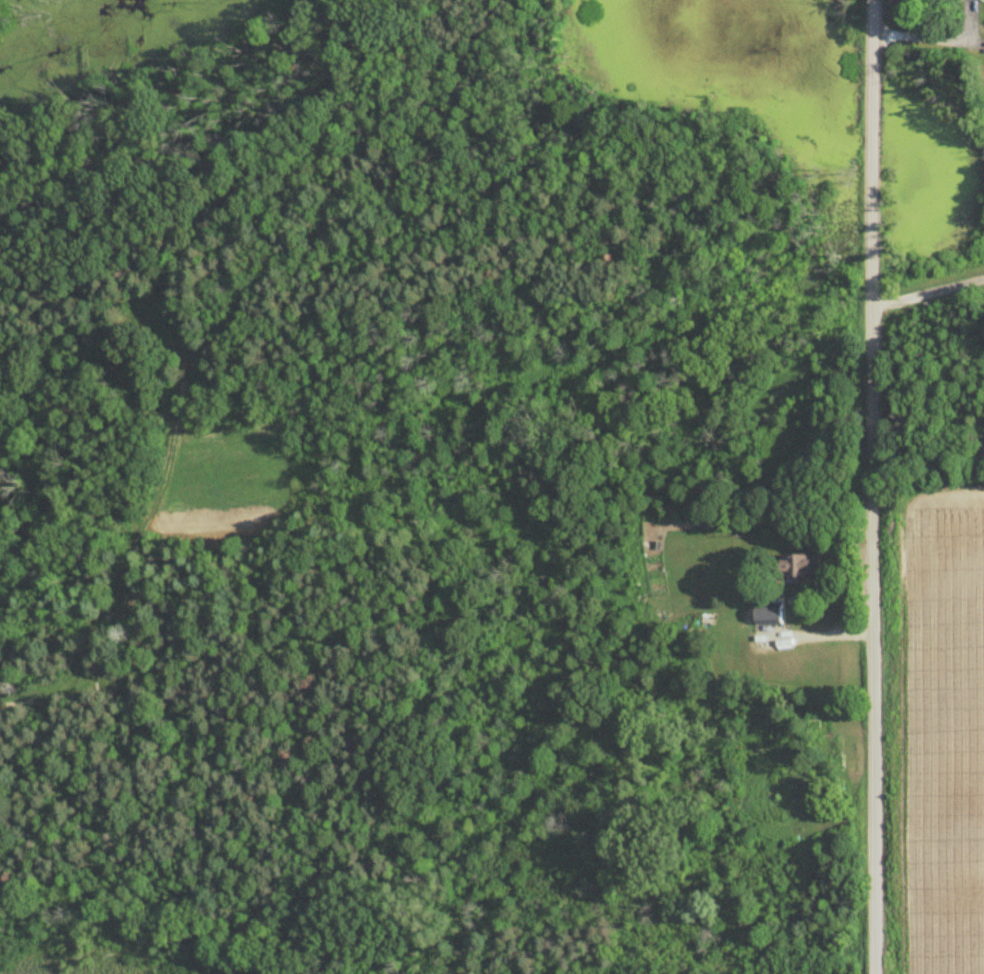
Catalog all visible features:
road: (931, 36)
road: (930, 290)
road: (874, 487)
building: (800, 567)
building: (771, 616)
road: (820, 633)

